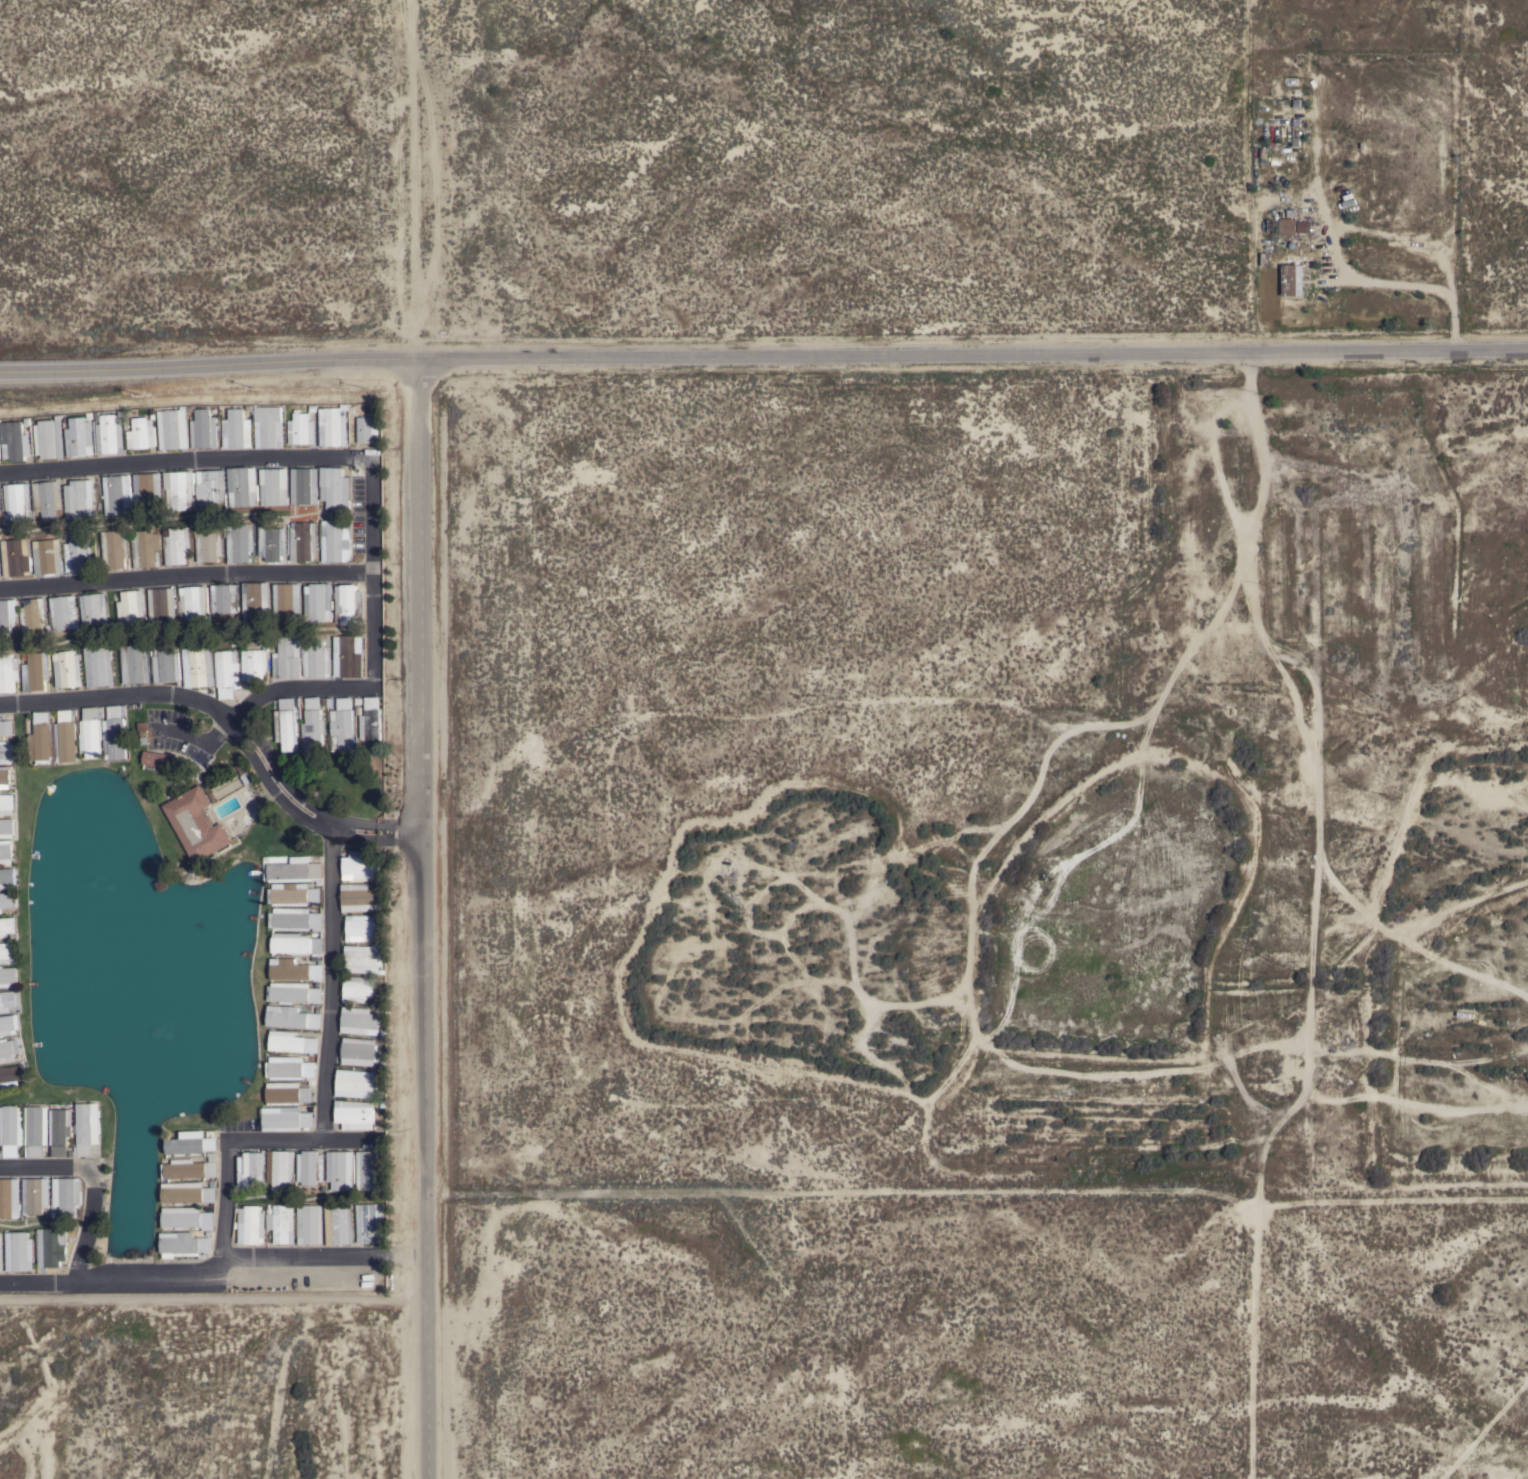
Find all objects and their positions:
railway: (832, 117)
railway: (822, 120)
building: (1288, 227)
building: (1302, 227)
building: (1292, 280)
railway: (970, 335)
railway: (962, 340)
road: (763, 355)
building: (333, 426)
building: (269, 427)
building: (368, 428)
building: (173, 429)
building: (204, 429)
building: (237, 429)
building: (301, 429)
building: (142, 434)
building: (109, 435)
building: (49, 438)
building: (79, 438)
building: (15, 441)
building: (0, 454)
road: (371, 459)
building: (304, 486)
building: (243, 487)
building: (274, 487)
building: (335, 488)
building: (180, 490)
building: (211, 490)
building: (147, 491)
building: (117, 494)
building: (48, 498)
building: (79, 500)
building: (18, 501)
building: (0, 509)
building: (303, 541)
building: (335, 542)
building: (272, 543)
building: (209, 544)
building: (240, 544)
building: (178, 545)
building: (115, 549)
building: (146, 549)
building: (78, 552)
building: (48, 557)
building: (16, 558)
road: (187, 578)
building: (224, 599)
building: (256, 601)
building: (318, 602)
building: (287, 603)
building: (348, 604)
building: (162, 605)
building: (192, 605)
building: (94, 609)
building: (131, 609)
building: (63, 613)
building: (8, 616)
building: (34, 616)
building: (349, 657)
building: (287, 659)
building: (316, 659)
building: (136, 663)
building: (166, 664)
building: (98, 665)
building: (254, 665)
building: (198, 667)
building: (67, 669)
building: (8, 672)
building: (35, 672)
building: (226, 672)
road: (231, 719)
building: (370, 719)
building: (313, 723)
building: (286, 725)
building: (343, 725)
building: (6, 728)
building: (142, 728)
building: (91, 732)
building: (115, 733)
building: (66, 736)
road: (195, 738)
building: (42, 739)
building: (6, 753)
building: (158, 759)
building: (4, 778)
building: (230, 785)
building: (7, 804)
building: (196, 824)
building: (7, 828)
railway: (1282, 832)
railway: (1278, 844)
building: (6, 852)
building: (361, 865)
building: (295, 871)
building: (8, 878)
building: (293, 895)
building: (360, 898)
building: (6, 901)
road: (420, 917)
building: (296, 919)
building: (6, 926)
building: (362, 928)
building: (297, 945)
building: (7, 953)
building: (363, 959)
building: (294, 970)
building: (8, 977)
building: (358, 989)
building: (294, 993)
building: (9, 1000)
building: (292, 1017)
building: (359, 1021)
building: (9, 1024)
building: (292, 1042)
building: (8, 1050)
building: (358, 1052)
building: (290, 1069)
building: (11, 1076)
building: (355, 1084)
building: (287, 1094)
building: (354, 1114)
building: (285, 1118)
building: (60, 1128)
building: (86, 1129)
building: (11, 1131)
building: (36, 1131)
road: (353, 1141)
building: (192, 1145)
building: (59, 1151)
building: (310, 1168)
building: (188, 1170)
building: (251, 1170)
building: (283, 1170)
building: (341, 1170)
building: (370, 1170)
road: (226, 1184)
building: (187, 1194)
building: (35, 1196)
building: (66, 1196)
building: (9, 1198)
building: (186, 1219)
building: (370, 1223)
building: (251, 1225)
building: (280, 1225)
building: (310, 1225)
building: (339, 1225)
building: (183, 1245)
building: (51, 1247)
building: (18, 1252)
building: (0, 1254)
road: (322, 1257)
road: (36, 1284)
road: (1263, 1343)

